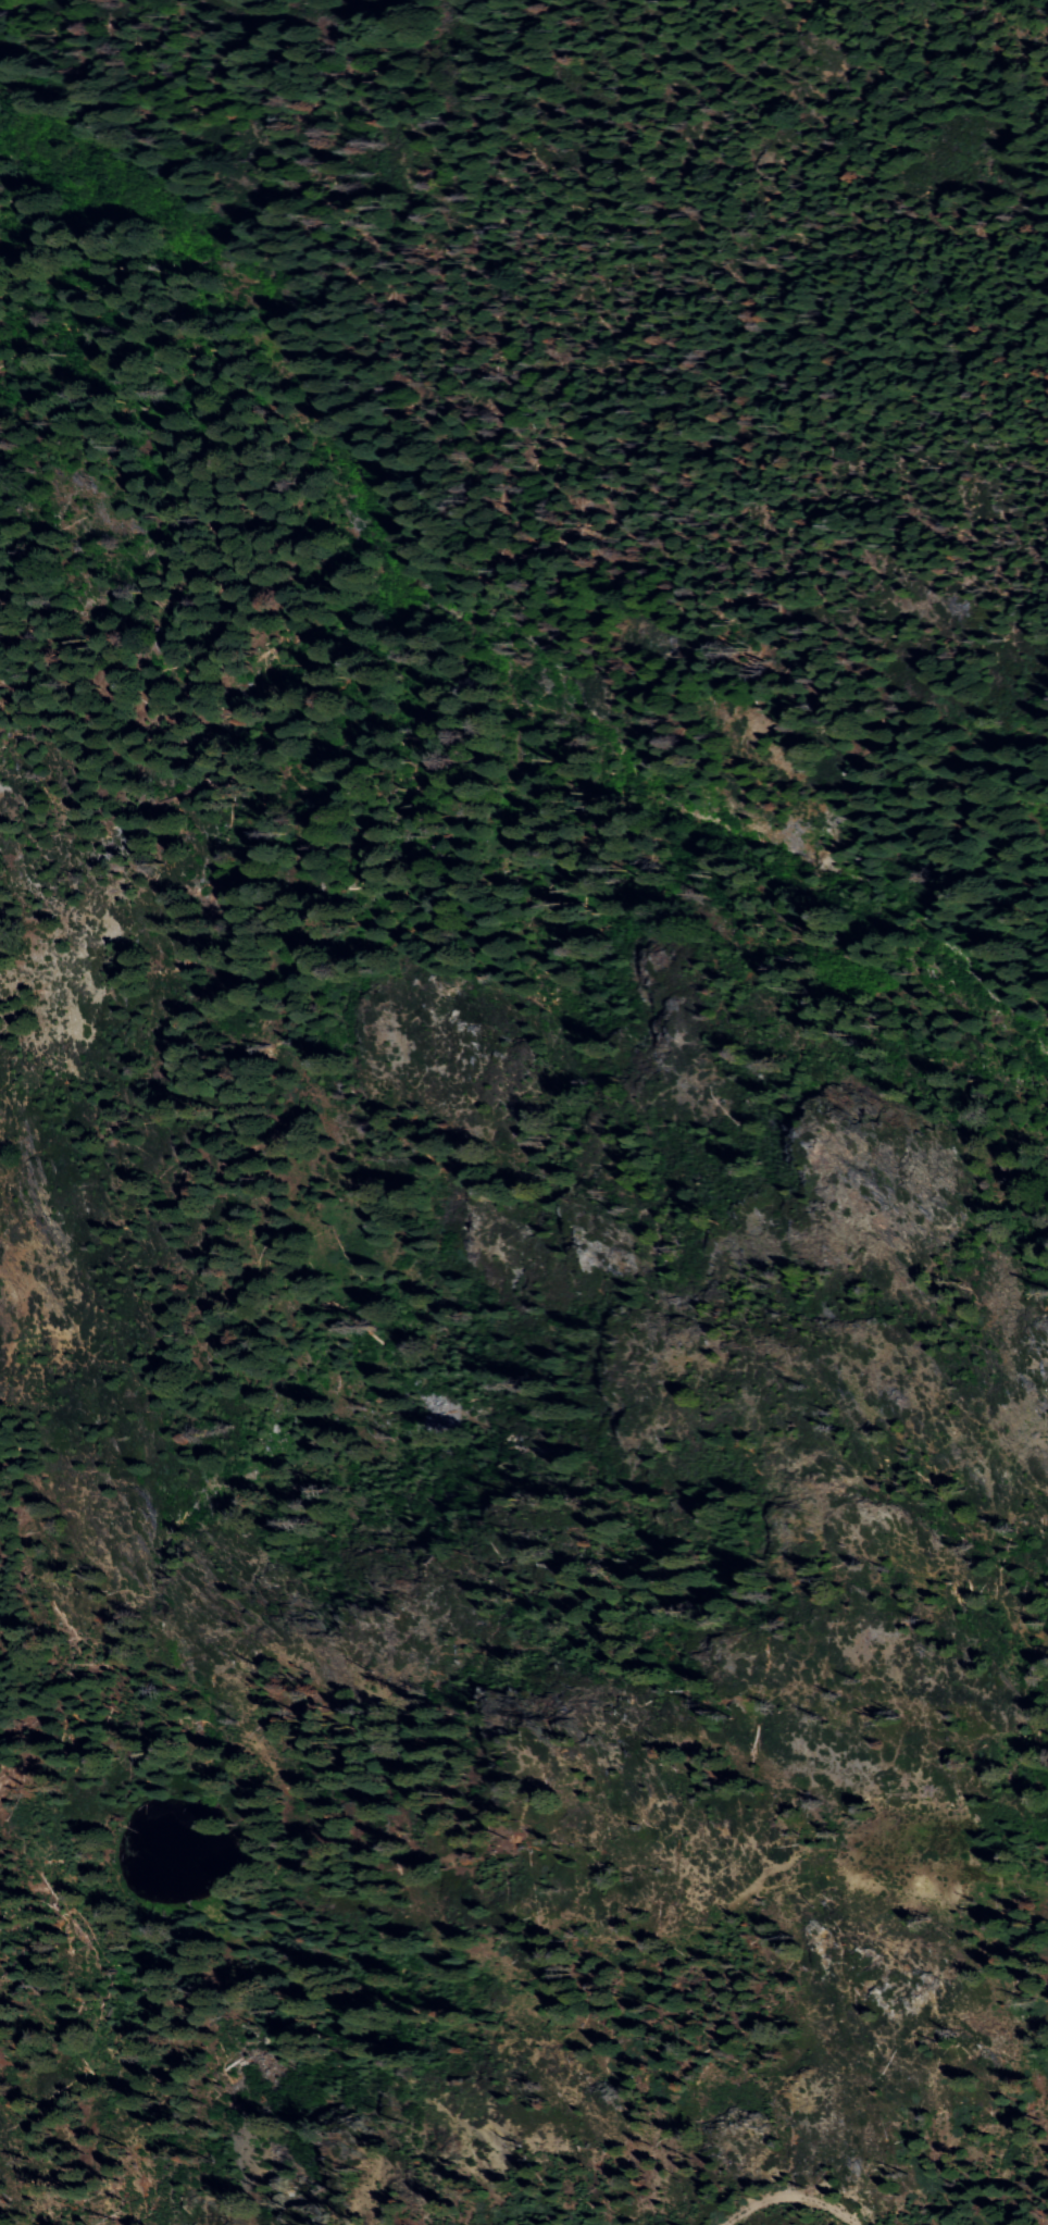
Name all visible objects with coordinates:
road: (957, 1875)
road: (796, 2200)

